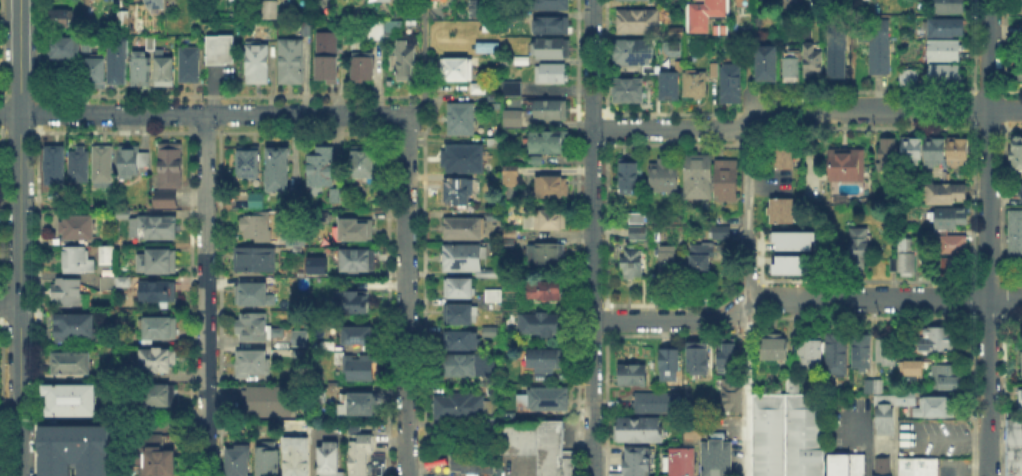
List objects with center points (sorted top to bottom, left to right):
building: (381, 0)
building: (158, 2)
building: (1021, 4)
building: (549, 6)
building: (951, 7)
building: (271, 10)
building: (480, 10)
building: (708, 15)
building: (59, 20)
building: (124, 20)
building: (638, 20)
building: (554, 27)
building: (307, 28)
building: (393, 30)
building: (946, 30)
building: (376, 33)
building: (87, 44)
road: (423, 44)
building: (65, 47)
building: (221, 48)
road: (973, 48)
road: (1005, 49)
road: (38, 51)
building: (554, 51)
building: (880, 51)
road: (2, 52)
building: (328, 52)
building: (944, 52)
building: (635, 55)
road: (19, 56)
building: (117, 61)
building: (363, 62)
building: (405, 62)
building: (838, 62)
building: (291, 63)
building: (516, 63)
building: (815, 63)
building: (258, 64)
building: (768, 65)
building: (190, 67)
building: (714, 68)
building: (791, 69)
building: (142, 71)
building: (165, 71)
building: (457, 71)
building: (97, 72)
building: (1020, 74)
building: (552, 76)
building: (909, 78)
building: (945, 78)
building: (696, 85)
building: (733, 86)
building: (670, 88)
building: (480, 89)
building: (513, 91)
building: (630, 92)
road: (451, 97)
road: (420, 105)
road: (804, 108)
road: (973, 108)
road: (1005, 109)
building: (550, 112)
road: (202, 113)
road: (2, 114)
road: (38, 114)
building: (462, 120)
building: (513, 121)
building: (548, 143)
building: (495, 144)
building: (914, 151)
building: (937, 152)
building: (959, 152)
building: (1018, 155)
building: (889, 157)
building: (783, 158)
building: (463, 160)
building: (133, 162)
building: (365, 163)
building: (249, 164)
building: (78, 166)
building: (102, 167)
building: (849, 167)
building: (56, 168)
building: (171, 168)
building: (322, 169)
building: (279, 171)
building: (508, 174)
building: (666, 177)
building: (627, 178)
building: (698, 178)
building: (727, 181)
building: (553, 189)
building: (460, 192)
building: (1019, 192)
building: (949, 193)
building: (336, 196)
building: (172, 200)
building: (257, 202)
road: (1005, 202)
road: (973, 204)
road: (1, 208)
building: (783, 212)
road: (745, 214)
building: (324, 216)
building: (636, 219)
building: (952, 219)
building: (546, 221)
building: (259, 226)
building: (470, 227)
building: (150, 228)
building: (78, 231)
building: (357, 231)
building: (719, 231)
road: (558, 235)
building: (638, 235)
road: (986, 237)
building: (295, 238)
road: (591, 238)
building: (1016, 238)
building: (781, 239)
building: (509, 240)
building: (859, 245)
building: (954, 245)
building: (546, 255)
building: (109, 257)
building: (906, 259)
building: (76, 261)
building: (255, 261)
building: (468, 261)
building: (668, 261)
building: (359, 262)
building: (157, 263)
building: (701, 263)
building: (314, 264)
building: (633, 265)
building: (781, 265)
building: (955, 266)
building: (321, 272)
building: (105, 282)
road: (3, 284)
road: (20, 284)
road: (35, 284)
building: (117, 284)
building: (459, 290)
building: (544, 292)
building: (159, 293)
road: (20, 294)
road: (406, 294)
building: (68, 295)
road: (205, 295)
road: (802, 295)
building: (251, 296)
building: (495, 297)
road: (1005, 298)
road: (973, 299)
road: (38, 300)
road: (10, 302)
building: (352, 303)
road: (3, 305)
road: (35, 316)
building: (461, 316)
road: (19, 318)
road: (1, 322)
building: (542, 326)
building: (77, 329)
building: (161, 330)
building: (258, 331)
building: (491, 333)
building: (359, 337)
building: (937, 339)
building: (301, 340)
building: (462, 342)
building: (774, 347)
building: (328, 348)
building: (887, 350)
building: (862, 352)
building: (811, 355)
building: (837, 355)
building: (728, 357)
building: (699, 359)
building: (546, 360)
building: (160, 361)
building: (254, 364)
building: (72, 365)
building: (459, 366)
building: (911, 366)
building: (670, 367)
building: (359, 368)
building: (633, 376)
building: (948, 378)
building: (792, 383)
building: (873, 384)
building: (491, 389)
road: (745, 391)
road: (972, 394)
road: (1003, 394)
building: (732, 396)
building: (905, 396)
road: (2, 397)
building: (542, 397)
building: (1019, 397)
building: (156, 398)
building: (264, 399)
building: (67, 402)
building: (356, 402)
building: (658, 404)
building: (459, 405)
building: (933, 405)
road: (10, 409)
building: (883, 411)
building: (491, 421)
building: (352, 427)
building: (1013, 427)
building: (690, 429)
building: (640, 430)
building: (787, 434)
parking lot: (932, 436)
road: (947, 437)
road: (864, 443)
building: (538, 444)
building: (1013, 447)
building: (74, 449)
building: (359, 453)
road: (892, 453)
building: (294, 455)
building: (159, 457)
building: (706, 457)
building: (721, 457)
building: (266, 458)
building: (327, 458)
building: (634, 460)
building: (234, 461)
building: (676, 461)
building: (470, 462)
building: (836, 464)
building: (854, 464)
building: (375, 465)
building: (880, 465)
building: (904, 466)
building: (924, 466)
building: (1011, 467)
building: (1020, 467)
parking lot: (952, 468)
road: (977, 469)
building: (614, 473)
building: (880, 475)

